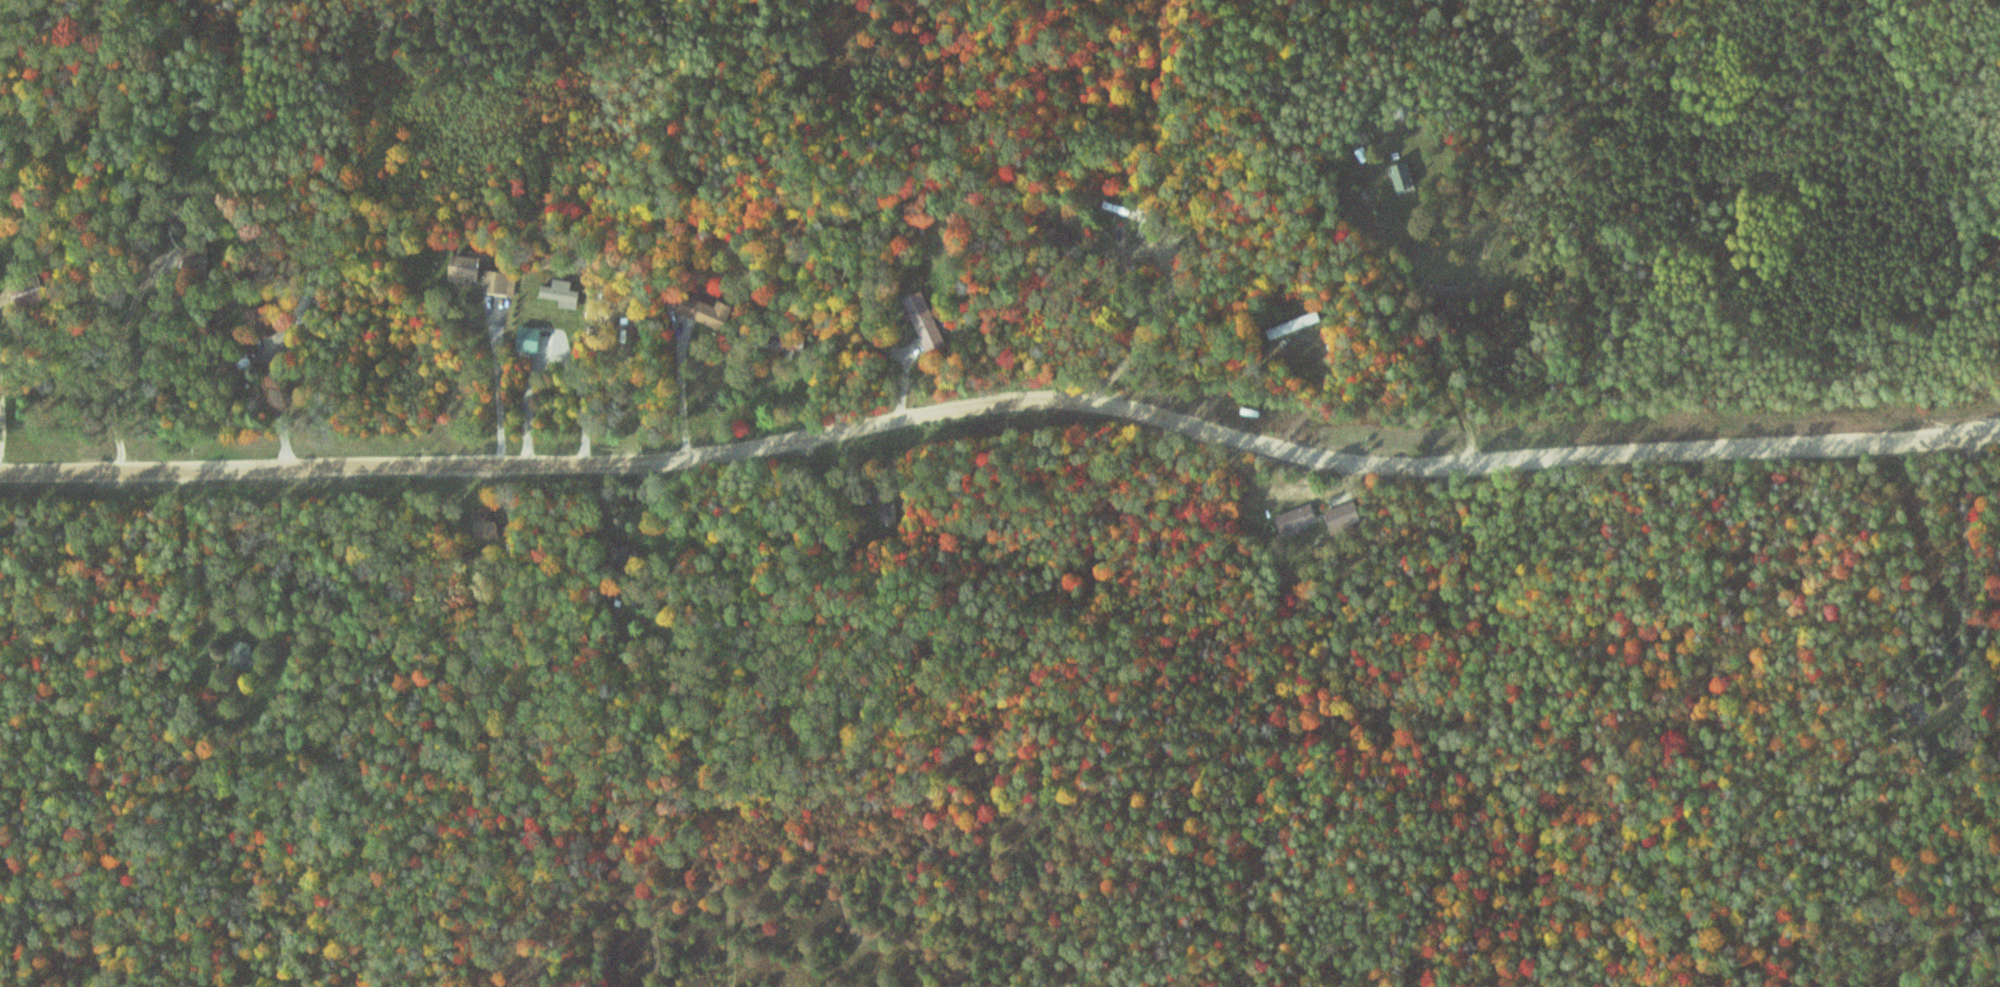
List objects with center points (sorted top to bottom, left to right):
building: (1403, 178)
building: (198, 258)
building: (482, 274)
building: (32, 293)
building: (927, 322)
building: (1301, 324)
road: (265, 355)
building: (238, 365)
road: (1002, 404)
building: (891, 513)
building: (1348, 516)
building: (1300, 519)
building: (238, 654)
road: (737, 944)

